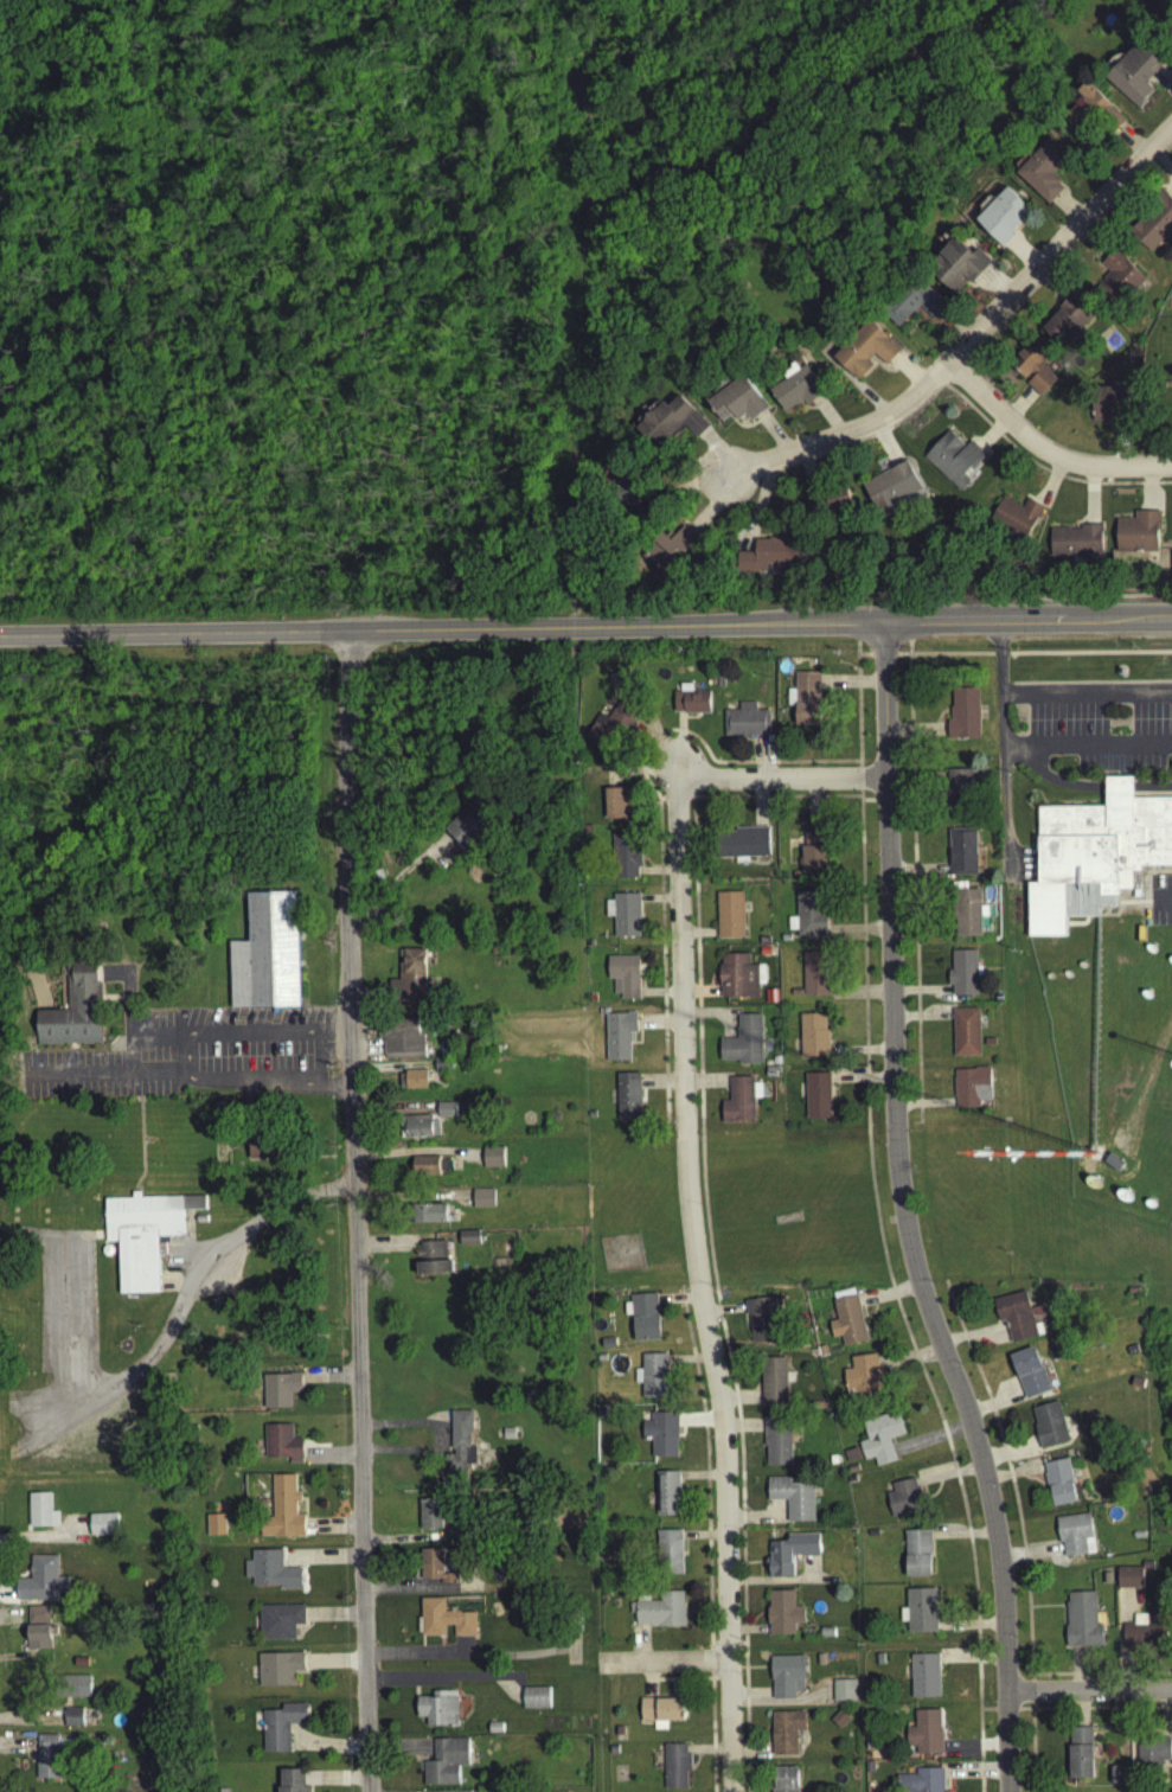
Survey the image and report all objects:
building: (1171, 30)
building: (1171, 38)
road: (50, 44)
building: (1134, 78)
road: (1164, 82)
building: (1094, 115)
road: (1129, 146)
road: (1161, 166)
building: (1042, 175)
road: (1068, 212)
building: (1001, 222)
building: (1154, 224)
road: (1091, 243)
road: (1069, 254)
road: (1020, 260)
building: (956, 269)
building: (1117, 283)
road: (1050, 287)
road: (993, 289)
building: (910, 306)
building: (1067, 320)
road: (953, 329)
road: (971, 340)
building: (864, 354)
road: (954, 375)
road: (908, 376)
building: (1035, 376)
road: (851, 386)
road: (941, 390)
building: (795, 393)
building: (737, 405)
road: (966, 409)
road: (1019, 409)
building: (1108, 409)
road: (827, 421)
building: (664, 425)
road: (694, 428)
road: (773, 439)
road: (992, 439)
road: (883, 448)
road: (1043, 455)
road: (716, 456)
building: (953, 463)
road: (806, 473)
road: (1049, 487)
building: (629, 493)
road: (686, 493)
building: (890, 493)
road: (1147, 493)
road: (1090, 500)
building: (827, 505)
road: (711, 511)
road: (757, 512)
building: (648, 517)
building: (1014, 521)
building: (1136, 537)
building: (1075, 546)
building: (671, 551)
building: (768, 559)
road: (1033, 600)
road: (1132, 627)
road: (907, 628)
road: (985, 631)
road: (614, 635)
road: (173, 639)
road: (863, 658)
road: (1089, 658)
road: (882, 659)
road: (942, 659)
road: (998, 659)
street lamp: (895, 665)
road: (880, 684)
road: (850, 685)
building: (806, 704)
building: (691, 706)
road: (857, 708)
building: (962, 718)
building: (745, 727)
building: (615, 729)
parking lot: (1090, 735)
road: (914, 736)
road: (678, 750)
road: (1029, 750)
road: (659, 751)
building: (473, 753)
road: (883, 761)
road: (758, 762)
road: (659, 769)
road: (678, 772)
road: (639, 776)
road: (858, 781)
road: (744, 783)
road: (847, 785)
road: (914, 785)
parking lot: (1151, 791)
building: (959, 798)
road: (775, 802)
road: (671, 804)
road: (1003, 807)
street lamp: (662, 808)
road: (757, 808)
road: (813, 809)
road: (447, 811)
building: (622, 812)
road: (658, 819)
building: (469, 830)
building: (741, 847)
building: (811, 855)
building: (962, 856)
building: (1094, 859)
building: (625, 860)
road: (403, 866)
road: (916, 873)
road: (658, 875)
road: (912, 887)
road: (917, 894)
road: (659, 903)
parking lot: (1160, 904)
building: (967, 917)
building: (728, 919)
building: (625, 920)
building: (808, 920)
road: (1077, 929)
road: (856, 935)
road: (697, 939)
building: (265, 959)
building: (961, 978)
building: (623, 979)
building: (814, 979)
building: (736, 981)
building: (409, 986)
road: (52, 987)
road: (380, 991)
road: (920, 994)
road: (39, 996)
road: (128, 996)
road: (699, 996)
road: (858, 996)
road: (659, 999)
road: (367, 1007)
street lamp: (877, 1010)
building: (73, 1016)
road: (712, 1018)
road: (920, 1020)
road: (658, 1028)
building: (963, 1036)
road: (188, 1038)
building: (617, 1039)
building: (812, 1041)
road: (158, 1043)
building: (401, 1044)
building: (742, 1047)
road: (366, 1055)
road: (858, 1055)
road: (130, 1061)
parking lot: (197, 1061)
road: (71, 1064)
building: (442, 1069)
road: (392, 1071)
parking lot: (847, 1076)
road: (109, 1080)
road: (332, 1083)
building: (414, 1083)
road: (859, 1083)
road: (704, 1086)
road: (659, 1087)
road: (680, 1087)
road: (137, 1090)
road: (894, 1090)
building: (969, 1092)
road: (723, 1093)
road: (831, 1094)
road: (641, 1097)
road: (950, 1097)
building: (816, 1100)
building: (627, 1102)
building: (738, 1106)
road: (258, 1108)
road: (922, 1108)
building: (446, 1114)
building: (469, 1114)
road: (393, 1115)
building: (420, 1133)
building: (262, 1147)
road: (141, 1153)
road: (417, 1156)
road: (308, 1161)
road: (346, 1161)
building: (492, 1161)
building: (1113, 1167)
building: (425, 1170)
building: (1093, 1186)
road: (787, 1197)
building: (1123, 1201)
road: (412, 1202)
building: (481, 1203)
building: (1148, 1208)
road: (354, 1215)
building: (427, 1217)
road: (704, 1221)
building: (784, 1223)
building: (143, 1240)
building: (468, 1242)
road: (393, 1249)
road: (187, 1250)
building: (620, 1257)
parking lot: (178, 1265)
building: (431, 1265)
road: (229, 1285)
road: (696, 1288)
road: (916, 1294)
building: (1131, 1295)
road: (892, 1297)
building: (790, 1298)
road: (886, 1299)
road: (697, 1310)
parking lot: (65, 1311)
road: (722, 1314)
road: (862, 1316)
building: (1014, 1320)
building: (643, 1321)
road: (993, 1321)
road: (743, 1323)
building: (761, 1323)
building: (847, 1326)
road: (971, 1338)
parking lot: (992, 1344)
building: (608, 1348)
building: (1131, 1355)
road: (159, 1357)
building: (600, 1362)
road: (908, 1363)
building: (1029, 1377)
building: (653, 1381)
building: (863, 1382)
road: (329, 1383)
building: (773, 1385)
building: (1136, 1388)
road: (1003, 1393)
building: (278, 1395)
road: (1048, 1397)
road: (38, 1406)
road: (2, 1408)
road: (993, 1409)
building: (1049, 1431)
building: (660, 1438)
building: (507, 1439)
building: (879, 1441)
road: (434, 1442)
road: (929, 1442)
building: (776, 1445)
building: (280, 1447)
building: (457, 1454)
road: (331, 1455)
road: (442, 1455)
road: (1007, 1455)
building: (832, 1465)
road: (704, 1471)
building: (852, 1473)
road: (1012, 1478)
road: (947, 1479)
road: (1010, 1481)
building: (851, 1485)
building: (1058, 1487)
building: (667, 1498)
building: (792, 1503)
building: (904, 1503)
building: (45, 1508)
building: (282, 1515)
building: (429, 1517)
building: (105, 1521)
road: (417, 1523)
building: (214, 1529)
road: (333, 1530)
road: (417, 1532)
building: (871, 1537)
building: (1072, 1538)
building: (1138, 1538)
road: (703, 1540)
road: (962, 1540)
road: (408, 1543)
road: (683, 1550)
building: (668, 1556)
road: (1030, 1556)
building: (790, 1557)
building: (917, 1559)
road: (322, 1562)
building: (1146, 1570)
building: (434, 1573)
building: (273, 1574)
road: (460, 1574)
road: (417, 1582)
building: (1106, 1582)
building: (1129, 1583)
building: (41, 1585)
road: (430, 1593)
building: (660, 1614)
road: (696, 1615)
building: (921, 1615)
building: (782, 1618)
road: (334, 1620)
building: (443, 1624)
building: (1082, 1625)
building: (278, 1626)
building: (570, 1627)
road: (969, 1630)
road: (303, 1631)
road: (648, 1632)
fountain: (399, 1636)
building: (826, 1638)
building: (40, 1641)
building: (1144, 1641)
road: (1120, 1643)
road: (421, 1644)
road: (975, 1645)
road: (640, 1647)
road: (725, 1649)
road: (739, 1649)
road: (859, 1649)
road: (440, 1650)
road: (462, 1650)
road: (712, 1650)
road: (744, 1651)
road: (571, 1652)
road: (557, 1655)
parking lot: (570, 1655)
road: (575, 1656)
road: (421, 1658)
road: (582, 1659)
road: (513, 1660)
road: (571, 1660)
road: (743, 1660)
road: (971, 1663)
road: (590, 1664)
road: (662, 1664)
building: (819, 1664)
building: (877, 1664)
road: (710, 1665)
road: (335, 1666)
building: (278, 1672)
road: (757, 1672)
road: (1081, 1673)
road: (724, 1676)
road: (1101, 1678)
building: (786, 1681)
building: (923, 1681)
building: (81, 1682)
road: (561, 1682)
road: (519, 1683)
road: (648, 1683)
road: (442, 1684)
road: (679, 1684)
parking lot: (434, 1687)
road: (456, 1689)
building: (75, 1691)
road: (671, 1692)
road: (1088, 1695)
road: (508, 1696)
building: (844, 1696)
road: (750, 1697)
road: (1030, 1697)
road: (415, 1701)
building: (534, 1703)
road: (792, 1707)
street lamp: (1048, 1709)
building: (76, 1713)
building: (438, 1714)
building: (660, 1714)
road: (986, 1714)
road: (1004, 1714)
road: (1101, 1714)
road: (638, 1715)
road: (1026, 1715)
road: (1082, 1715)
road: (1163, 1719)
building: (76, 1722)
building: (839, 1723)
building: (280, 1732)
road: (745, 1732)
building: (493, 1733)
road: (711, 1734)
building: (617, 1735)
building: (784, 1736)
building: (924, 1737)
flagpole: (329, 1740)
road: (292, 1746)
road: (973, 1749)
road: (322, 1751)
building: (51, 1753)
road: (399, 1753)
road: (1031, 1753)
road: (709, 1754)
road: (751, 1754)
building: (1152, 1754)
building: (611, 1755)
road: (422, 1756)
building: (1081, 1759)
road: (422, 1767)
building: (446, 1767)
building: (674, 1769)
building: (869, 1772)
road: (974, 1779)
building: (784, 1781)
building: (290, 1783)
road: (335, 1783)
building: (920, 1784)
road: (309, 1787)

